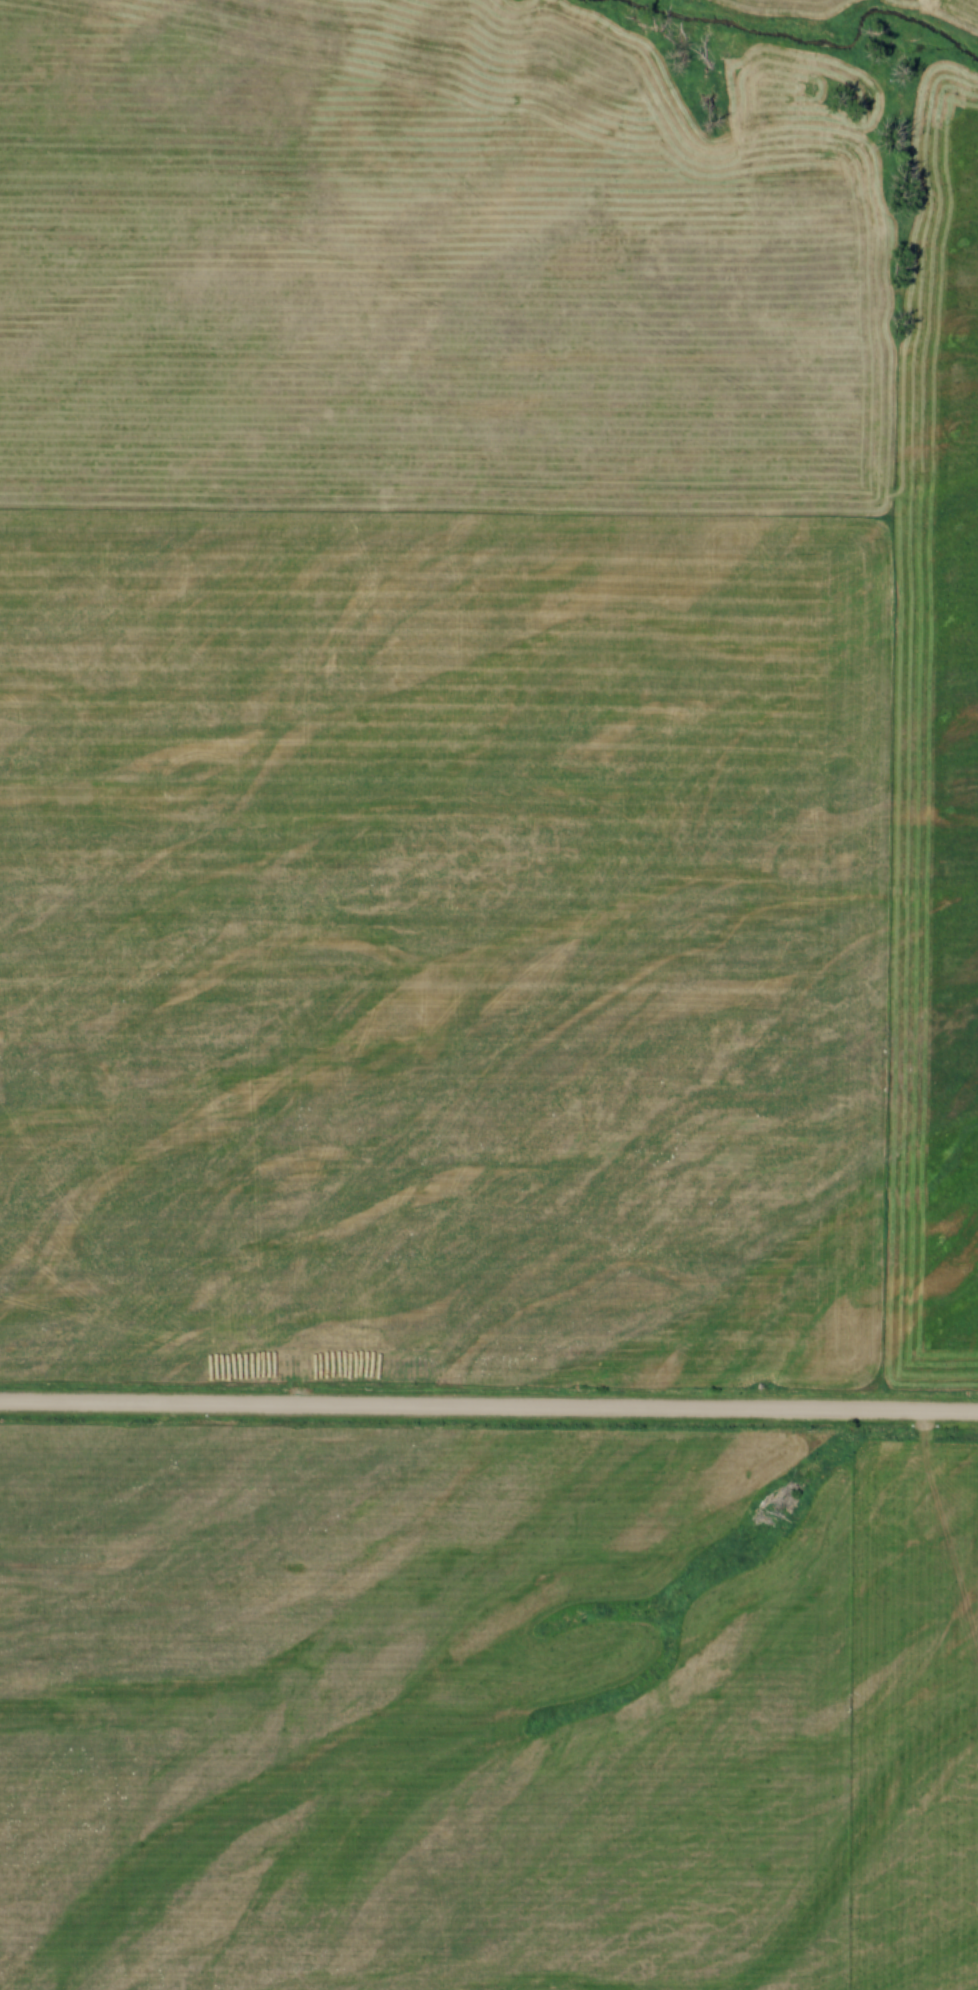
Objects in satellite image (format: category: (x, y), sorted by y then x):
road: (489, 1405)

